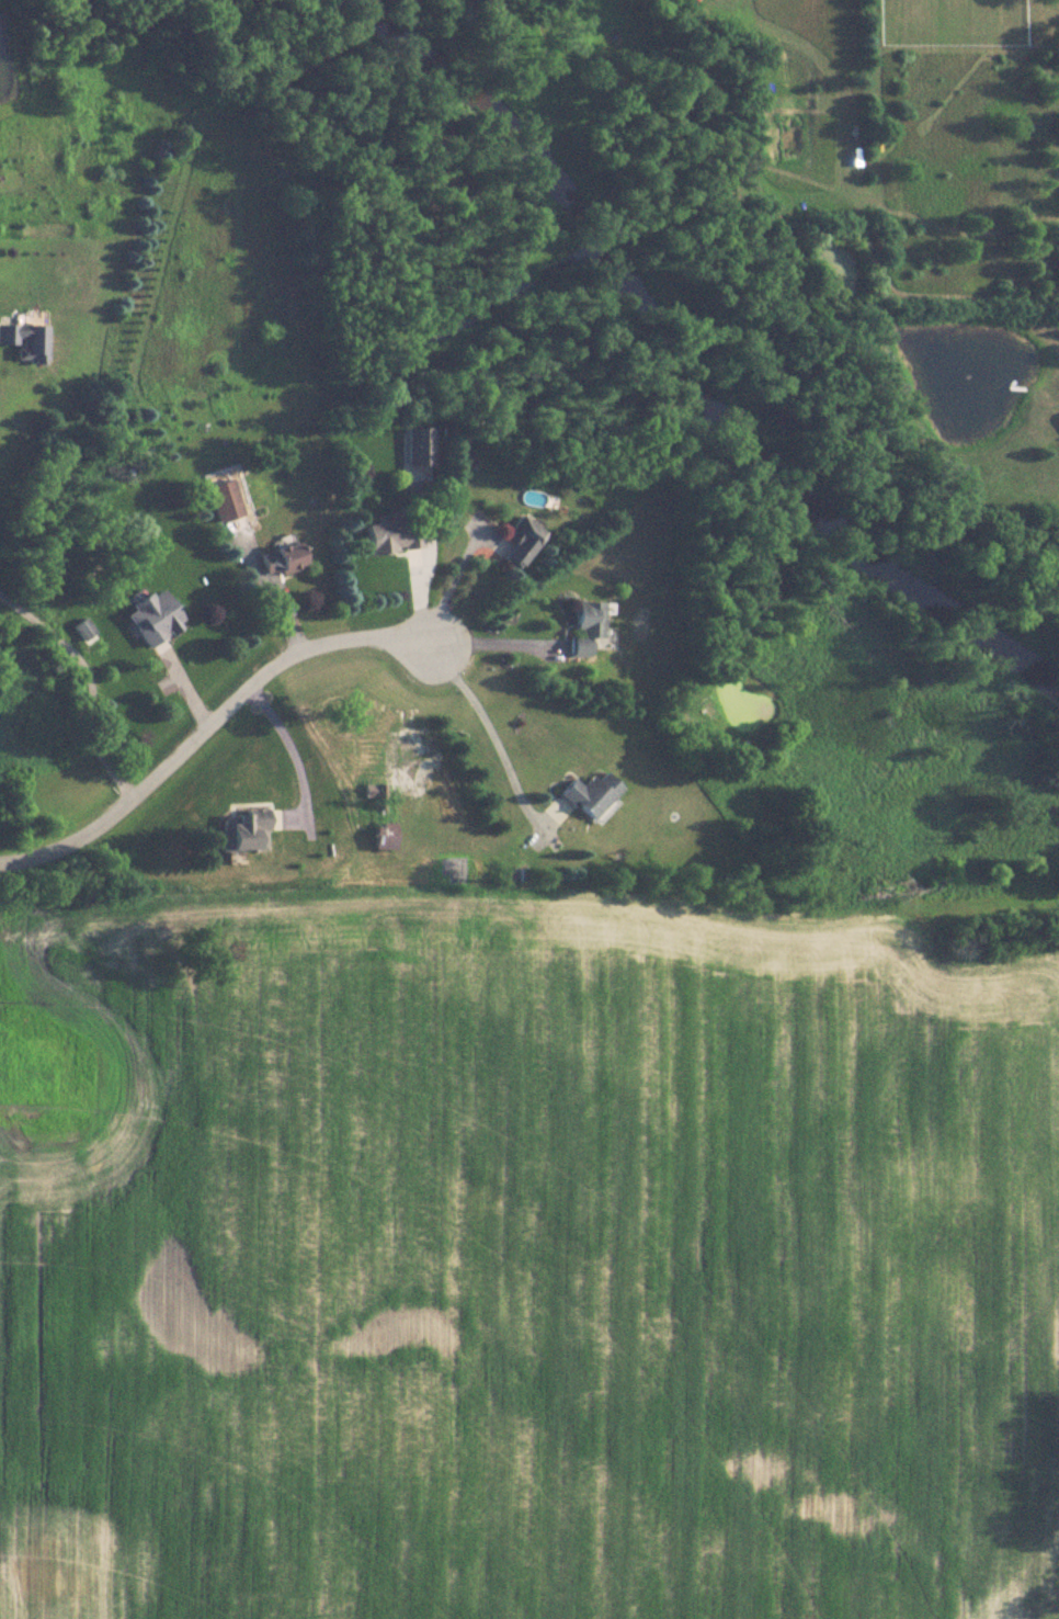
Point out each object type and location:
building: (24, 340)
building: (419, 446)
building: (224, 499)
building: (389, 537)
building: (520, 541)
building: (280, 559)
road: (428, 561)
road: (449, 580)
building: (152, 618)
building: (585, 629)
road: (499, 641)
road: (86, 680)
road: (207, 720)
road: (492, 737)
road: (288, 745)
building: (590, 793)
building: (554, 810)
building: (241, 830)
building: (382, 841)

